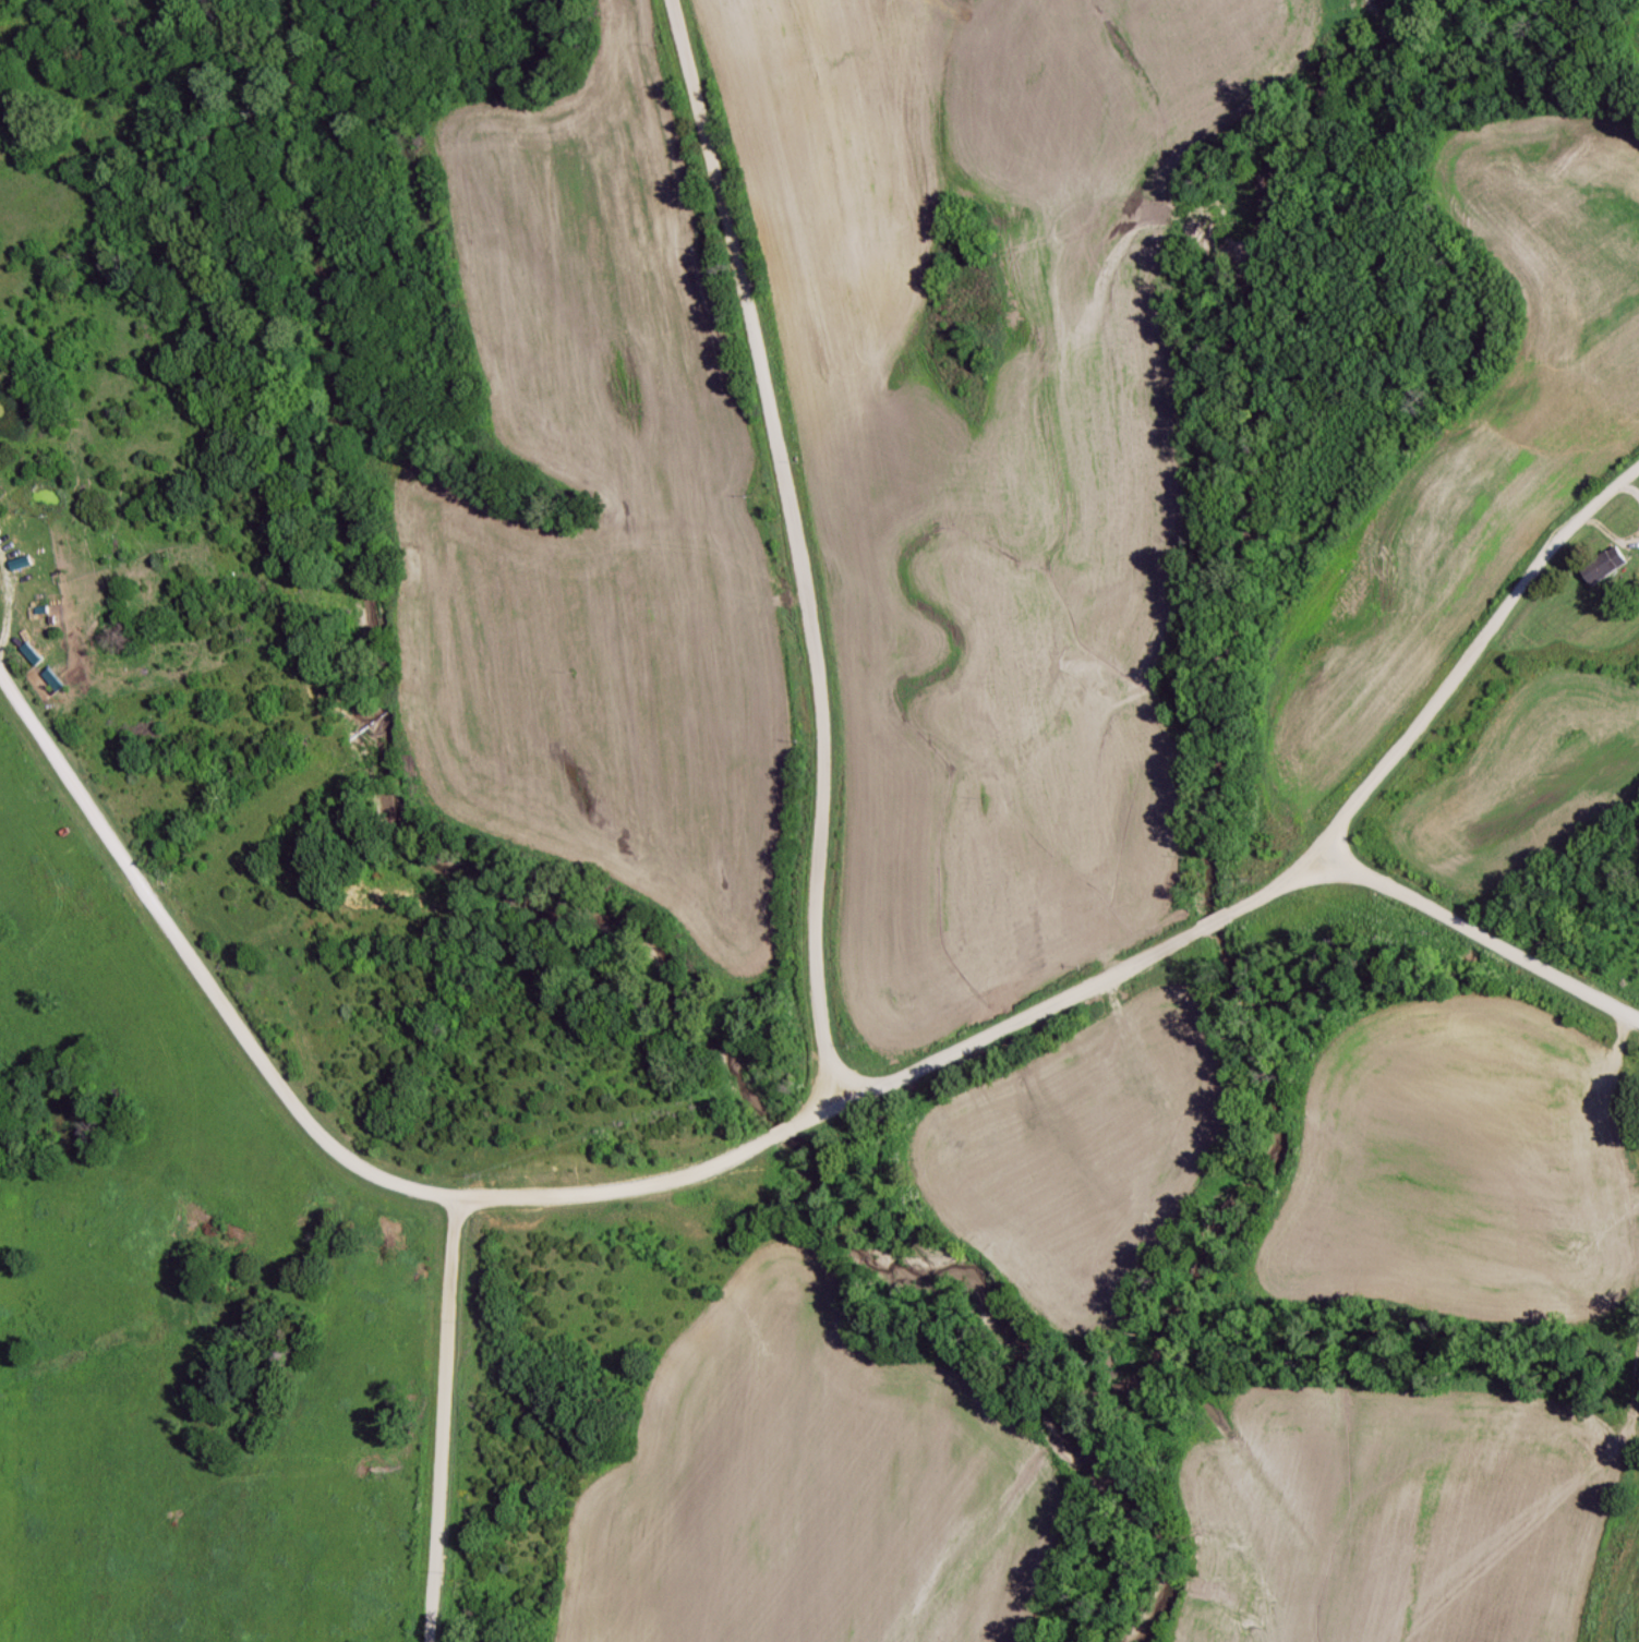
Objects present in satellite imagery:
road: (799, 543)
building: (1604, 565)
road: (1477, 937)
road: (1126, 965)
road: (198, 977)
park: (251, 1376)
road: (436, 1421)

